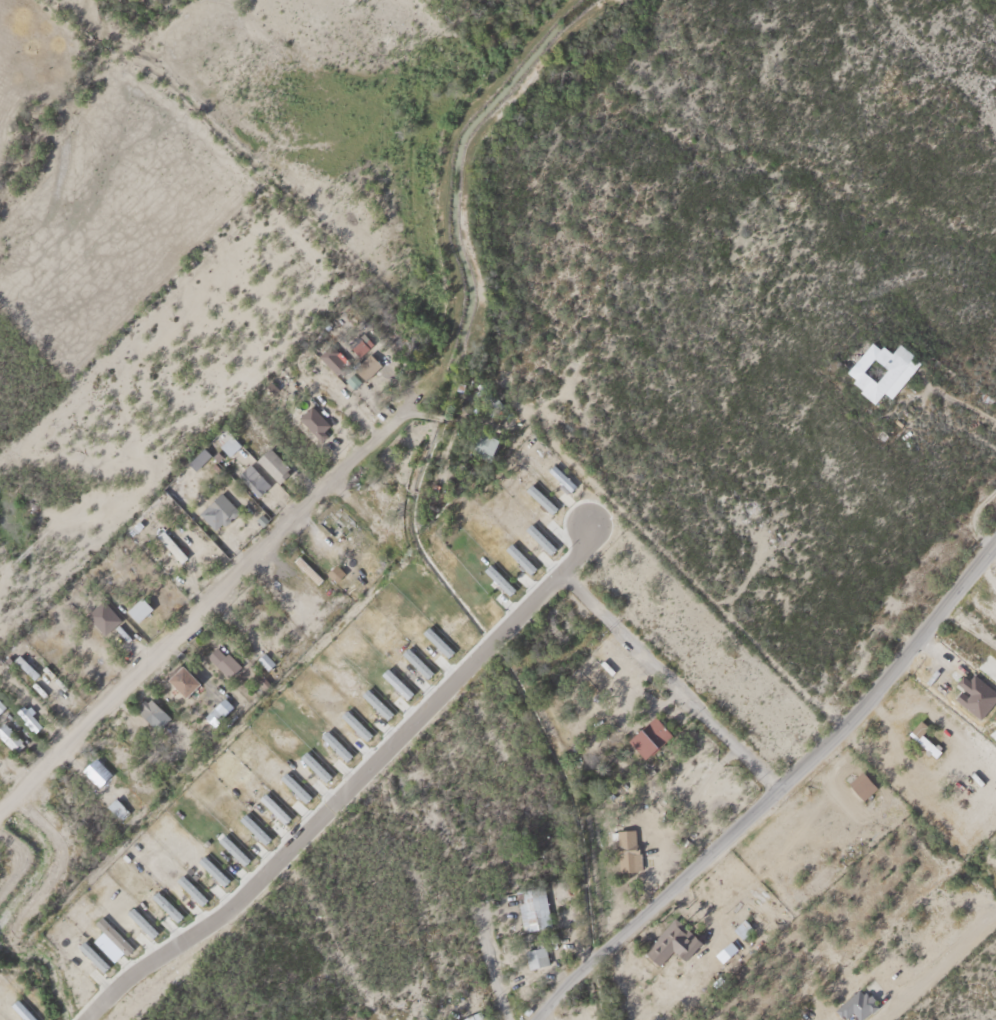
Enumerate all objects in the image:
building: (355, 344)
building: (364, 362)
building: (878, 367)
road: (926, 376)
building: (483, 440)
building: (271, 462)
building: (557, 474)
building: (250, 476)
building: (537, 495)
building: (215, 508)
building: (537, 535)
building: (516, 554)
building: (306, 568)
building: (496, 576)
building: (275, 592)
road: (212, 597)
building: (136, 605)
building: (434, 638)
road: (919, 641)
building: (588, 656)
building: (219, 658)
building: (414, 659)
building: (181, 677)
building: (393, 680)
road: (667, 682)
building: (972, 690)
building: (374, 700)
building: (28, 717)
building: (646, 733)
building: (8, 735)
building: (333, 741)
building: (312, 763)
building: (92, 764)
building: (860, 783)
building: (292, 784)
road: (347, 786)
building: (271, 805)
building: (113, 806)
building: (251, 825)
building: (230, 846)
building: (625, 847)
building: (209, 866)
road: (684, 874)
building: (188, 886)
building: (163, 903)
building: (530, 903)
building: (138, 919)
building: (739, 925)
building: (726, 950)
building: (90, 952)
building: (535, 957)
road: (494, 962)
building: (854, 1001)

